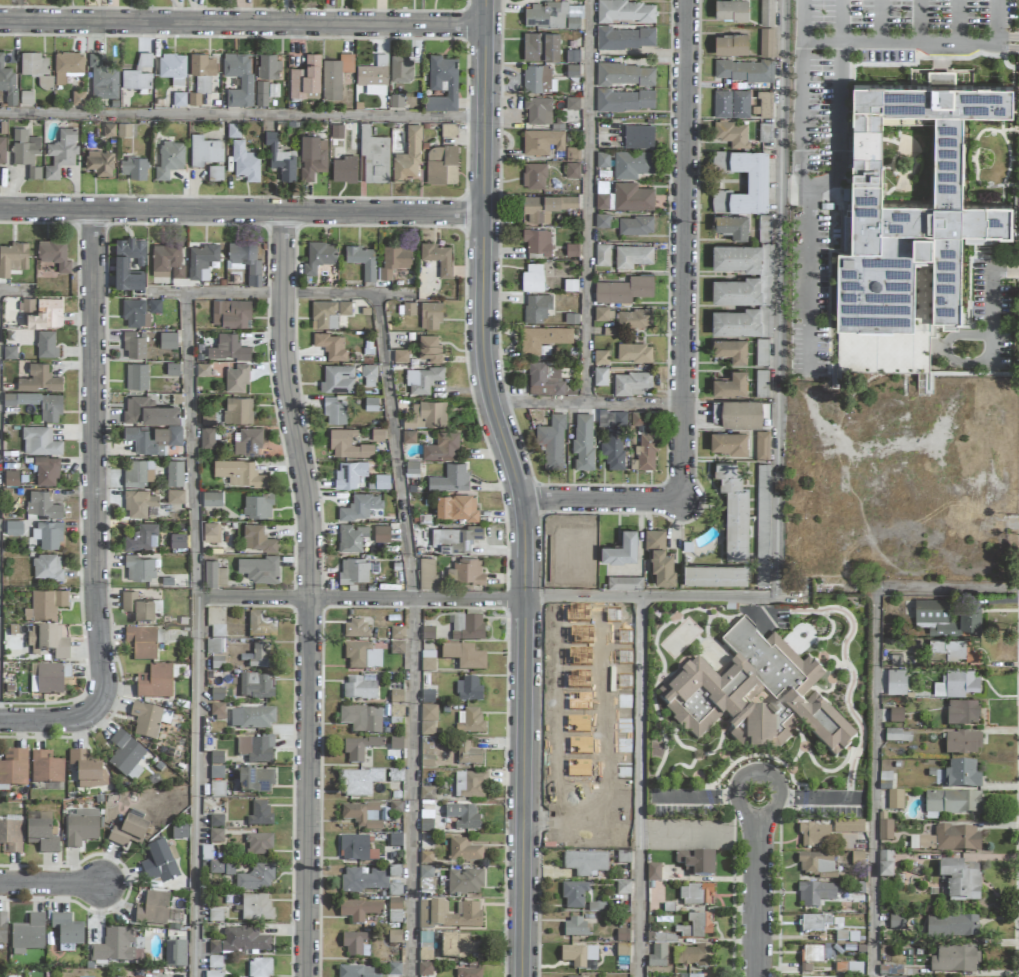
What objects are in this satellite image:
building: (731, 10)
building: (626, 11)
building: (767, 12)
building: (553, 15)
road: (806, 20)
road: (996, 20)
road: (244, 25)
building: (625, 38)
building: (766, 42)
building: (731, 45)
building: (541, 47)
parking lot: (883, 53)
building: (33, 63)
building: (67, 65)
building: (172, 65)
building: (268, 66)
building: (401, 68)
building: (743, 70)
building: (138, 73)
building: (201, 73)
building: (625, 74)
building: (335, 76)
building: (373, 76)
building: (102, 79)
building: (305, 79)
building: (44, 81)
building: (7, 82)
building: (245, 82)
building: (442, 83)
building: (265, 92)
road: (805, 98)
building: (179, 99)
building: (396, 100)
building: (625, 100)
building: (731, 104)
building: (765, 104)
building: (538, 110)
road: (244, 117)
building: (108, 129)
building: (449, 129)
building: (123, 130)
building: (233, 130)
building: (336, 131)
building: (765, 132)
building: (732, 134)
building: (638, 136)
building: (542, 141)
building: (2, 149)
building: (205, 150)
building: (26, 151)
building: (61, 153)
building: (573, 154)
building: (312, 157)
building: (374, 157)
building: (407, 157)
building: (281, 158)
building: (170, 159)
building: (602, 159)
building: (245, 162)
building: (100, 163)
building: (441, 164)
building: (632, 164)
building: (343, 167)
building: (133, 168)
building: (572, 170)
building: (215, 172)
building: (534, 176)
building: (757, 181)
building: (626, 198)
road: (591, 203)
building: (545, 206)
road: (243, 211)
building: (602, 220)
building: (635, 225)
building: (731, 226)
building: (764, 228)
building: (537, 241)
road: (686, 248)
building: (905, 249)
building: (54, 254)
building: (602, 255)
building: (319, 256)
building: (632, 256)
building: (438, 257)
building: (12, 258)
building: (737, 258)
building: (202, 260)
building: (245, 260)
building: (362, 260)
building: (121, 261)
building: (167, 261)
building: (394, 261)
building: (532, 278)
road: (15, 290)
building: (624, 290)
building: (736, 291)
road: (992, 291)
road: (284, 295)
road: (780, 298)
building: (154, 306)
building: (536, 307)
building: (409, 308)
building: (135, 313)
building: (329, 313)
building: (601, 313)
building: (46, 314)
building: (430, 315)
building: (634, 319)
building: (736, 322)
building: (544, 339)
building: (168, 340)
building: (46, 344)
building: (134, 345)
building: (331, 345)
building: (228, 348)
building: (430, 349)
building: (731, 350)
building: (634, 352)
building: (761, 352)
building: (400, 356)
building: (600, 357)
road: (948, 358)
building: (172, 369)
building: (203, 370)
building: (369, 375)
building: (136, 376)
building: (600, 376)
building: (236, 378)
building: (39, 379)
building: (338, 379)
building: (548, 379)
building: (421, 380)
building: (631, 383)
building: (761, 383)
building: (730, 385)
building: (38, 404)
road: (590, 407)
building: (238, 410)
building: (148, 411)
building: (334, 411)
building: (737, 413)
building: (426, 415)
building: (208, 418)
building: (612, 418)
building: (207, 437)
building: (409, 437)
building: (152, 439)
building: (39, 441)
building: (583, 441)
building: (248, 442)
building: (552, 442)
building: (728, 443)
building: (348, 445)
building: (762, 445)
building: (441, 447)
building: (613, 449)
building: (646, 452)
road: (93, 457)
building: (411, 467)
building: (46, 471)
building: (137, 473)
building: (174, 473)
building: (239, 473)
building: (349, 474)
building: (11, 477)
building: (450, 479)
road: (519, 479)
building: (175, 496)
building: (212, 498)
road: (603, 501)
building: (139, 503)
building: (42, 505)
building: (257, 506)
building: (360, 506)
building: (457, 507)
building: (734, 511)
building: (13, 527)
building: (211, 532)
building: (382, 533)
building: (48, 534)
building: (143, 536)
building: (351, 538)
building: (257, 539)
building: (454, 539)
building: (178, 540)
building: (621, 549)
building: (659, 557)
building: (47, 567)
building: (139, 568)
building: (259, 569)
building: (354, 570)
building: (468, 571)
building: (214, 574)
building: (428, 574)
building: (715, 575)
building: (624, 582)
road: (310, 585)
road: (947, 586)
building: (45, 605)
road: (503, 605)
building: (137, 608)
building: (946, 618)
building: (260, 626)
building: (467, 628)
building: (354, 629)
building: (396, 633)
building: (427, 634)
road: (198, 635)
road: (415, 635)
building: (47, 642)
building: (141, 643)
building: (212, 647)
building: (396, 648)
building: (954, 649)
building: (260, 657)
building: (361, 657)
building: (464, 657)
building: (426, 662)
building: (49, 679)
building: (896, 681)
building: (154, 682)
building: (956, 683)
building: (255, 686)
building: (358, 689)
building: (467, 690)
building: (755, 695)
building: (396, 697)
building: (427, 697)
building: (217, 712)
building: (961, 712)
building: (396, 714)
building: (428, 714)
building: (895, 716)
building: (251, 718)
building: (360, 719)
road: (50, 720)
building: (148, 720)
building: (470, 722)
building: (427, 729)
building: (897, 737)
building: (961, 744)
building: (394, 748)
building: (255, 749)
building: (358, 749)
building: (426, 755)
building: (467, 755)
building: (125, 757)
building: (216, 758)
building: (13, 769)
building: (45, 769)
building: (86, 770)
building: (961, 775)
building: (255, 781)
road: (874, 781)
building: (358, 783)
building: (469, 785)
road: (639, 787)
building: (216, 790)
building: (426, 794)
road: (752, 795)
building: (894, 800)
building: (952, 803)
building: (259, 815)
building: (363, 816)
building: (462, 817)
building: (215, 821)
building: (426, 821)
building: (848, 826)
building: (81, 828)
building: (885, 831)
building: (178, 832)
building: (40, 833)
building: (128, 833)
building: (814, 835)
building: (215, 836)
building: (10, 837)
building: (947, 840)
building: (258, 844)
building: (353, 848)
building: (463, 851)
building: (425, 858)
building: (857, 859)
building: (696, 863)
building: (158, 864)
building: (816, 865)
building: (884, 865)
building: (215, 868)
building: (425, 872)
building: (652, 873)
building: (255, 879)
building: (362, 880)
building: (960, 880)
building: (464, 882)
road: (48, 884)
road: (756, 885)
building: (815, 894)
building: (573, 895)
building: (696, 895)
building: (152, 909)
building: (255, 909)
building: (358, 910)
building: (394, 910)
building: (448, 915)
building: (895, 922)
building: (814, 923)
building: (697, 926)
building: (951, 927)
building: (2, 928)
building: (574, 928)
building: (27, 935)
building: (394, 937)
building: (241, 942)
building: (354, 945)
building: (114, 946)
building: (425, 947)
building: (459, 947)
building: (174, 954)
building: (811, 955)
building: (578, 956)
building: (693, 956)
building: (657, 957)
building: (954, 960)
building: (214, 962)
building: (258, 968)
building: (848, 968)
road: (306, 969)
building: (424, 969)
road: (523, 970)
building: (354, 972)
building: (468, 973)
building: (213, 974)
building: (136, 976)
building: (692, 976)
road: (756, 976)

